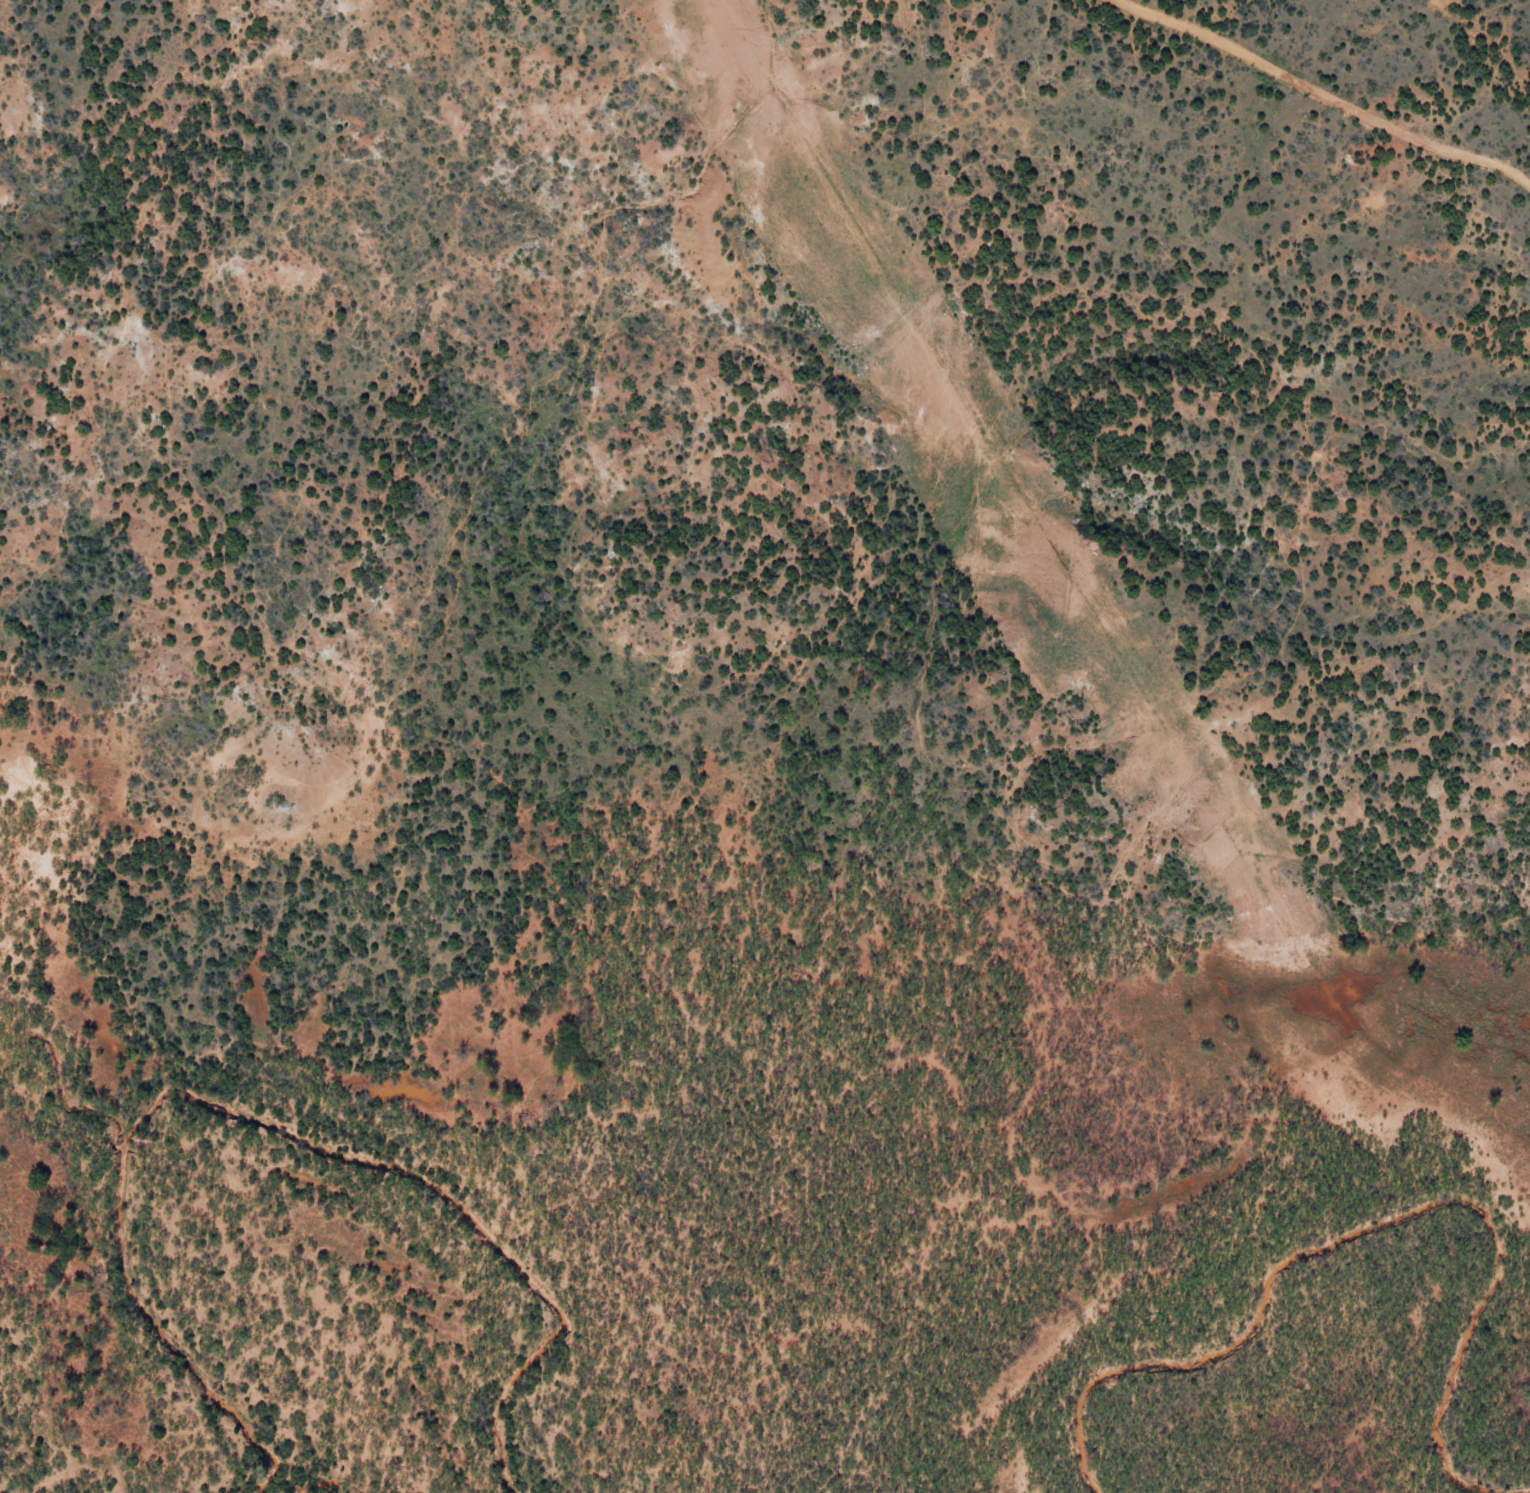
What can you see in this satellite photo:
road: (1329, 79)
road: (1066, 940)

